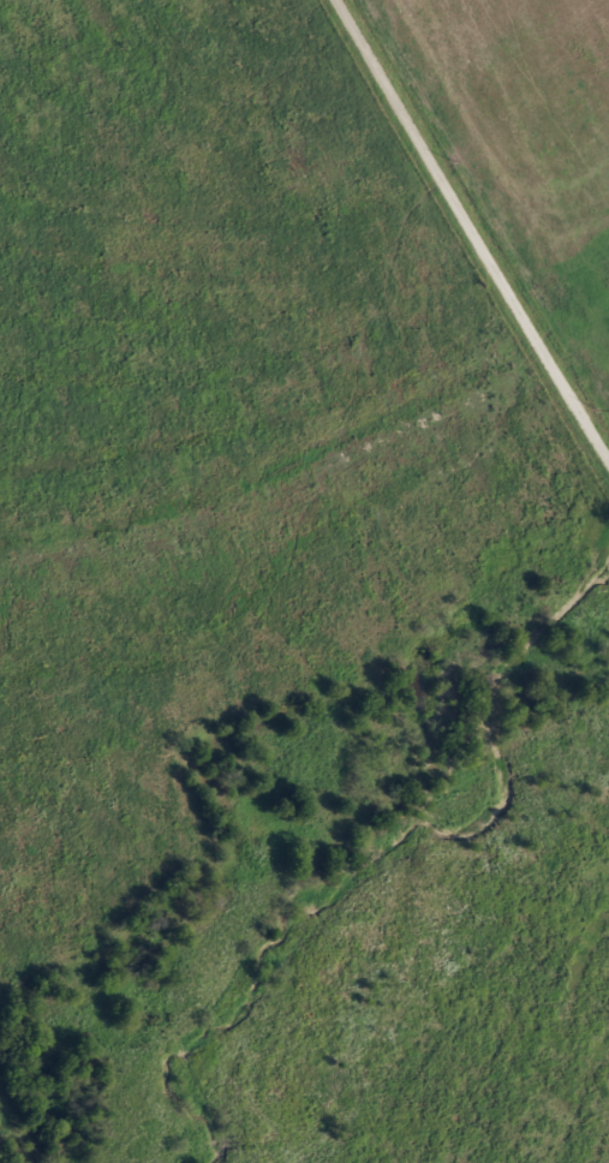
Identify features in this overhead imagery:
road: (468, 231)

